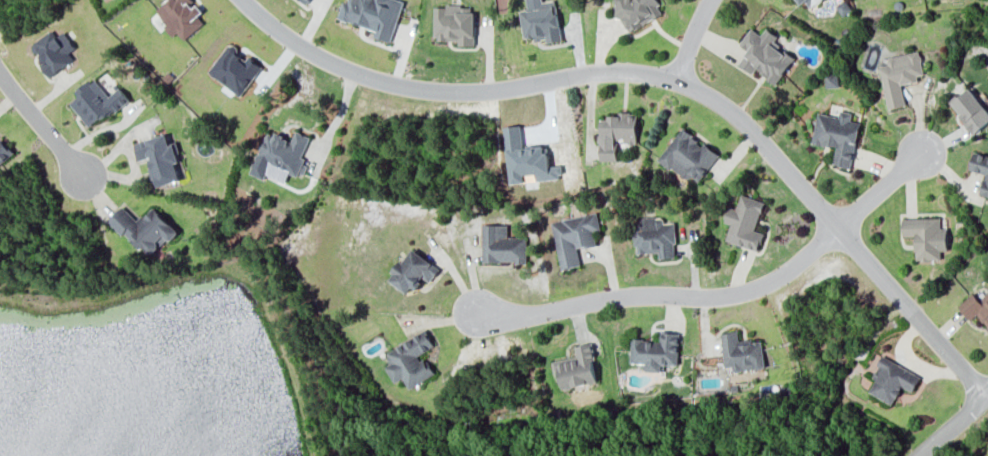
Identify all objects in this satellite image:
building: (306, 1)
building: (808, 3)
building: (637, 11)
building: (373, 15)
building: (181, 16)
building: (540, 20)
building: (454, 23)
road: (688, 40)
building: (54, 51)
building: (764, 54)
building: (899, 75)
road: (666, 78)
building: (831, 79)
building: (96, 102)
building: (970, 110)
road: (36, 126)
building: (616, 133)
building: (837, 135)
building: (4, 151)
building: (688, 155)
building: (280, 156)
building: (160, 158)
building: (980, 169)
building: (744, 222)
building: (145, 228)
building: (655, 236)
building: (574, 237)
building: (926, 237)
building: (502, 245)
building: (413, 270)
road: (720, 295)
building: (976, 307)
building: (656, 351)
building: (741, 352)
building: (410, 360)
building: (576, 367)
building: (891, 379)
road: (953, 424)

